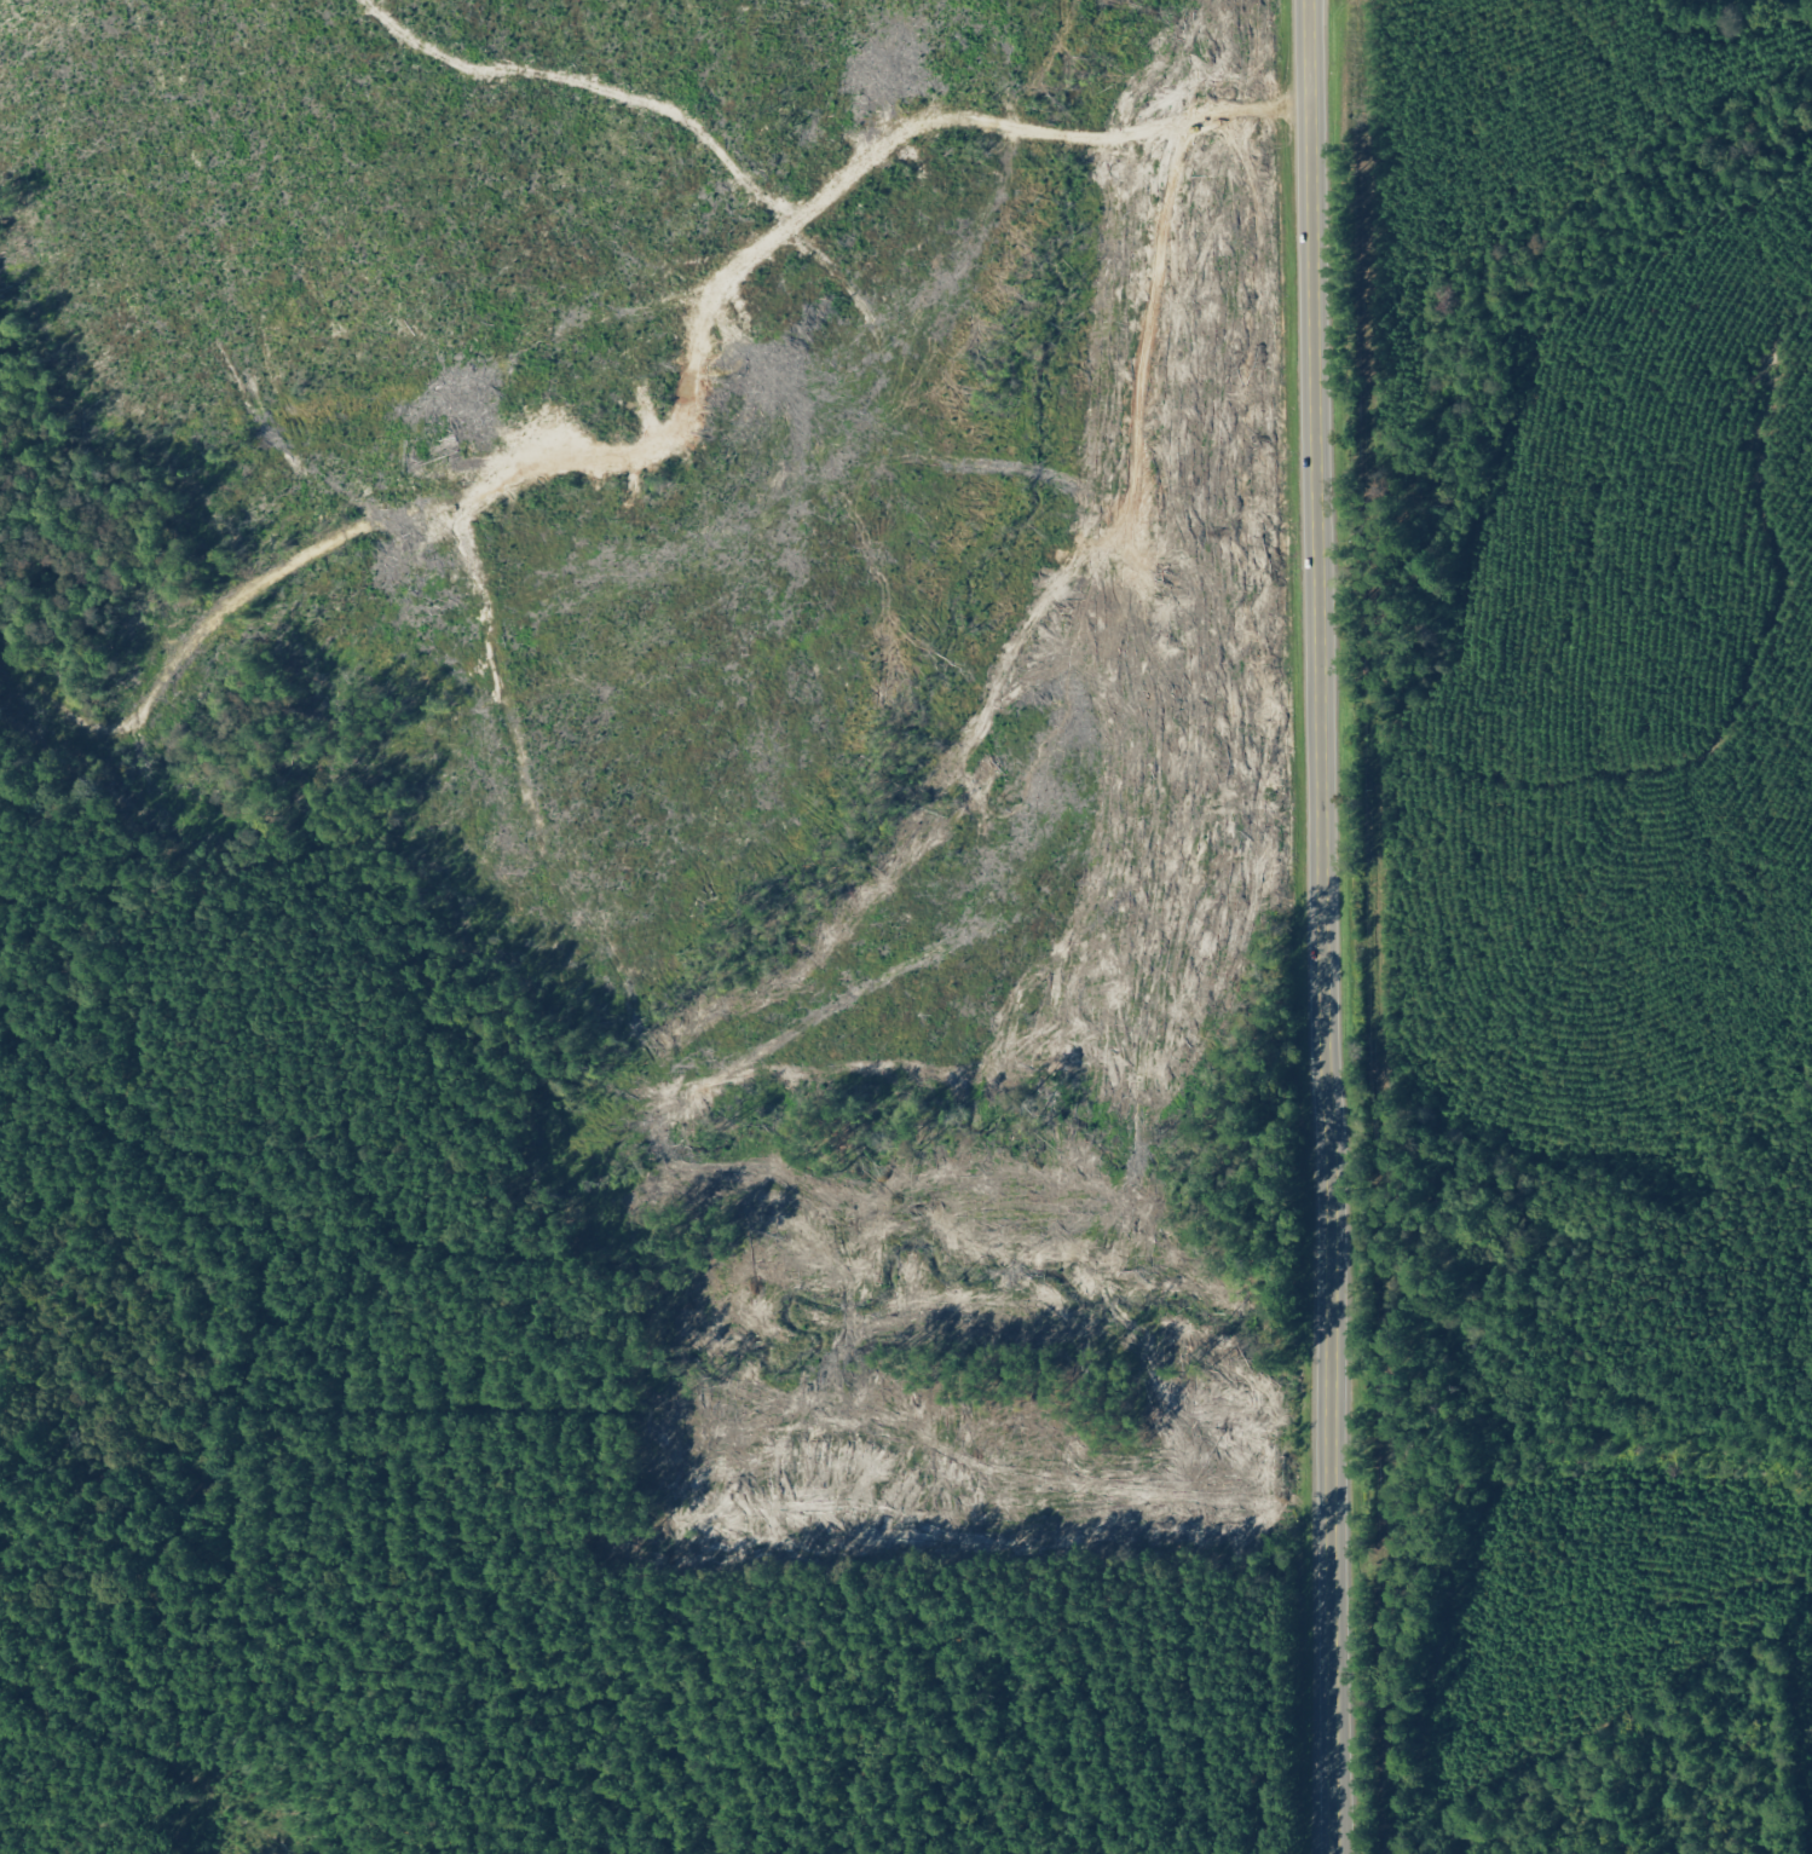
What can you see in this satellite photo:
road: (1322, 926)

